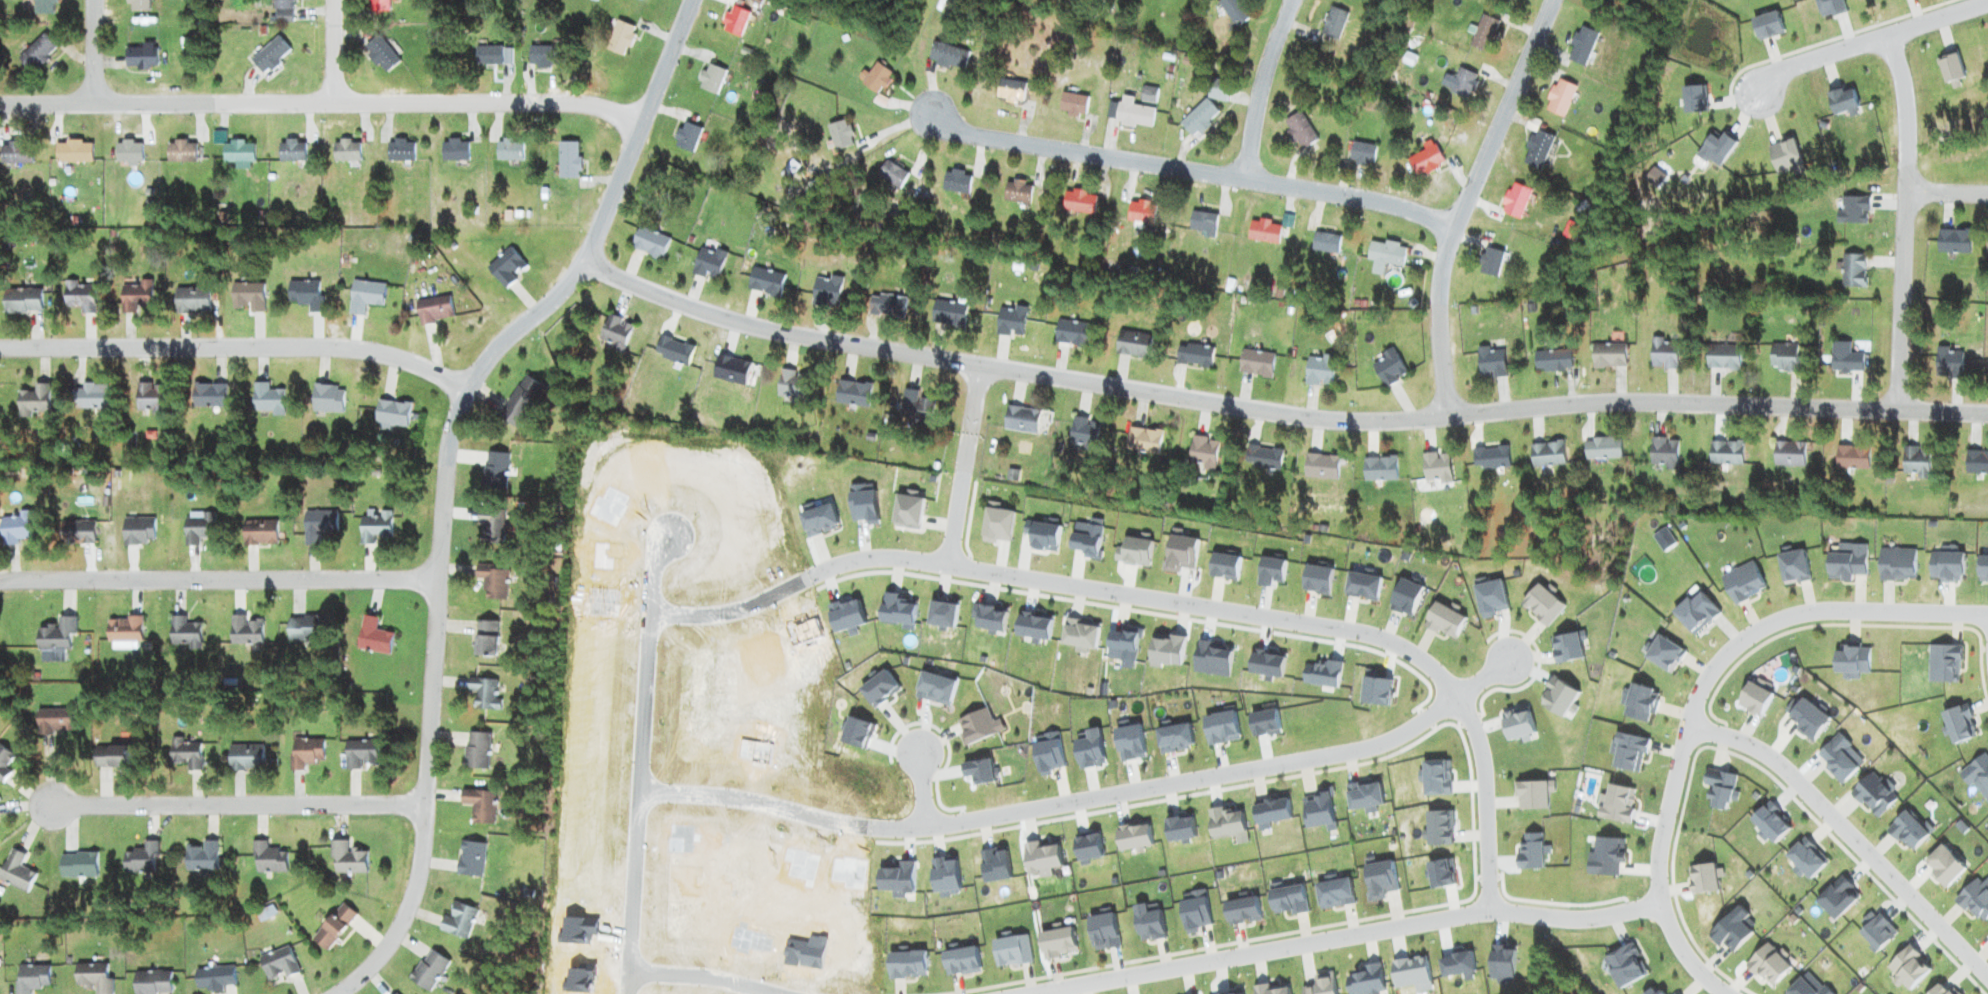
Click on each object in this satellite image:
building: (1508, 0)
building: (138, 5)
building: (377, 5)
building: (44, 7)
building: (282, 10)
building: (1234, 11)
building: (734, 21)
building: (1334, 23)
building: (1484, 33)
building: (620, 38)
road: (1869, 43)
building: (1581, 46)
road: (94, 51)
road: (333, 51)
building: (37, 53)
building: (380, 54)
building: (269, 55)
building: (487, 56)
building: (546, 56)
building: (948, 56)
building: (140, 58)
building: (876, 78)
building: (710, 79)
building: (1463, 83)
road: (1260, 86)
building: (1217, 89)
building: (1010, 90)
building: (1150, 93)
building: (1559, 97)
road: (322, 103)
building: (1072, 105)
building: (1130, 112)
building: (1198, 117)
building: (1300, 130)
building: (840, 134)
building: (687, 137)
building: (454, 149)
building: (508, 149)
building: (291, 150)
building: (346, 150)
building: (400, 150)
building: (73, 151)
building: (128, 151)
building: (181, 151)
building: (237, 151)
building: (16, 153)
building: (1362, 153)
building: (568, 160)
building: (1426, 161)
road: (1196, 171)
building: (892, 174)
building: (956, 181)
building: (1017, 191)
road: (1948, 192)
building: (1514, 200)
building: (1079, 201)
road: (1464, 201)
building: (1852, 209)
building: (1140, 212)
building: (1202, 222)
road: (1906, 222)
building: (1263, 231)
building: (1954, 241)
building: (649, 242)
building: (1325, 243)
building: (1385, 255)
building: (1490, 262)
building: (708, 263)
building: (506, 267)
building: (1853, 270)
building: (765, 281)
building: (826, 291)
road: (559, 293)
building: (305, 295)
building: (79, 296)
building: (135, 296)
building: (365, 296)
building: (248, 297)
building: (191, 300)
building: (22, 301)
building: (887, 306)
building: (433, 310)
building: (948, 314)
building: (1010, 322)
building: (615, 331)
building: (1071, 333)
building: (1133, 344)
road: (178, 345)
building: (673, 351)
building: (1663, 354)
building: (1194, 355)
building: (1608, 355)
building: (1722, 357)
building: (1785, 357)
building: (1845, 358)
building: (1490, 361)
building: (1552, 361)
building: (1256, 362)
road: (413, 363)
building: (1949, 363)
building: (1388, 367)
building: (730, 369)
building: (1319, 370)
building: (791, 386)
building: (852, 393)
building: (209, 395)
building: (89, 396)
building: (150, 398)
building: (327, 398)
building: (266, 399)
building: (34, 401)
building: (520, 401)
building: (917, 406)
building: (391, 413)
road: (1276, 413)
building: (1020, 419)
road: (1537, 424)
building: (1083, 431)
building: (1143, 441)
building: (1603, 448)
building: (1203, 452)
building: (1726, 452)
building: (1663, 453)
building: (1547, 454)
building: (1788, 454)
building: (1852, 457)
building: (1263, 458)
building: (1490, 458)
building: (1916, 462)
building: (1976, 462)
road: (964, 465)
building: (1320, 467)
building: (1436, 467)
building: (1379, 469)
building: (495, 470)
building: (317, 525)
building: (491, 526)
building: (375, 527)
building: (18, 528)
building: (196, 528)
building: (137, 531)
building: (76, 533)
building: (258, 533)
road: (219, 578)
building: (492, 582)
road: (1170, 600)
building: (304, 629)
building: (123, 630)
building: (244, 630)
building: (182, 633)
building: (56, 637)
building: (373, 637)
building: (485, 639)
road: (1730, 658)
road: (1484, 678)
building: (484, 693)
building: (53, 722)
building: (476, 751)
building: (305, 752)
building: (185, 753)
building: (360, 754)
building: (110, 757)
building: (245, 757)
road: (642, 761)
building: (5, 763)
road: (923, 787)
road: (424, 799)
road: (1055, 804)
building: (479, 805)
road: (243, 806)
road: (1852, 835)
building: (201, 856)
building: (141, 859)
building: (267, 859)
building: (470, 859)
building: (346, 860)
building: (77, 865)
building: (15, 872)
building: (457, 921)
building: (333, 927)
road: (1344, 938)
road: (1691, 959)
building: (278, 965)
building: (428, 971)
road: (705, 975)
building: (92, 977)
building: (31, 978)
building: (213, 979)
building: (151, 983)

